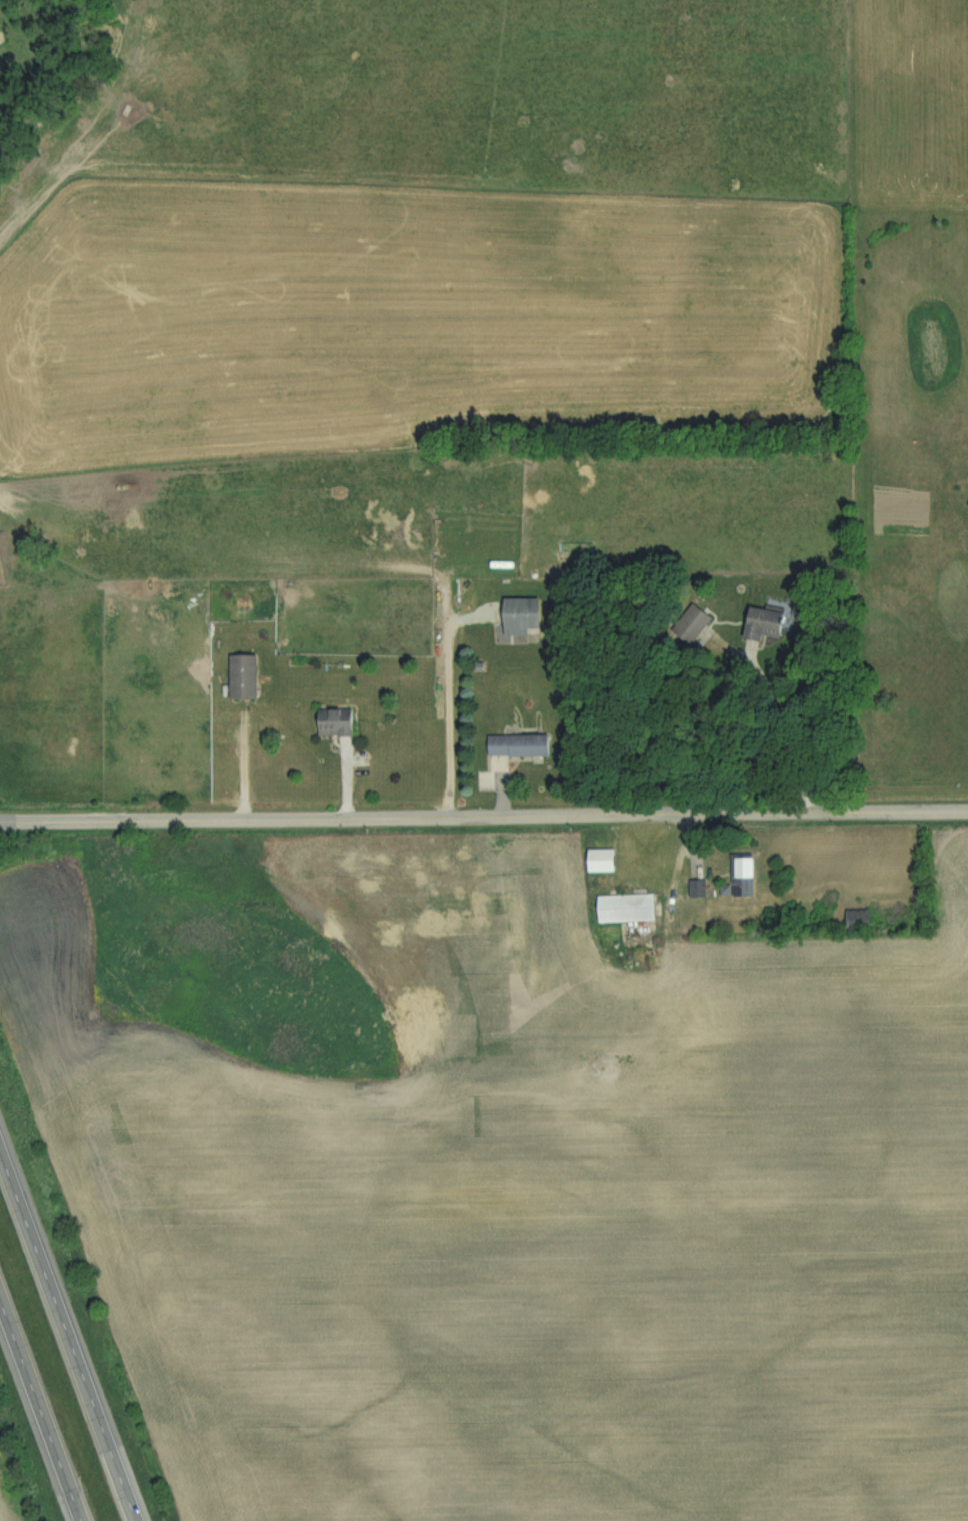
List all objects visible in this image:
building: (518, 616)
building: (757, 623)
building: (689, 624)
building: (248, 676)
building: (340, 722)
road: (784, 730)
building: (513, 745)
road: (483, 816)
building: (738, 877)
building: (621, 908)
road: (67, 1337)
road: (40, 1410)

